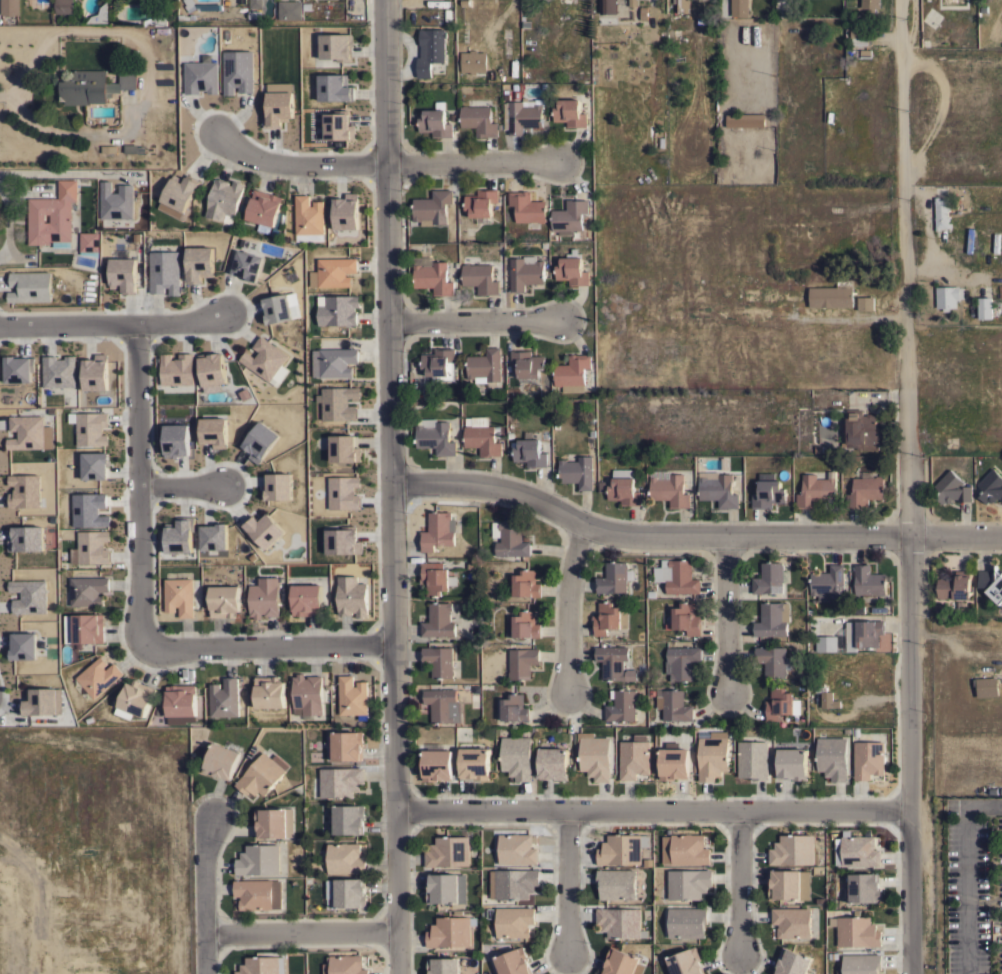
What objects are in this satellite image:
building: (464, 1)
building: (632, 3)
building: (189, 4)
building: (255, 4)
building: (870, 5)
building: (64, 6)
building: (607, 6)
building: (682, 6)
building: (9, 7)
building: (739, 7)
building: (289, 9)
building: (100, 15)
building: (155, 21)
building: (859, 37)
building: (335, 46)
building: (430, 50)
building: (473, 61)
building: (237, 71)
building: (200, 77)
building: (123, 81)
building: (84, 87)
building: (334, 88)
building: (277, 109)
building: (569, 113)
building: (523, 114)
building: (478, 120)
building: (744, 120)
building: (435, 123)
building: (337, 127)
building: (133, 148)
road: (472, 162)
road: (292, 165)
building: (179, 193)
road: (901, 194)
building: (224, 199)
building: (115, 201)
building: (481, 202)
building: (432, 206)
building: (527, 207)
building: (264, 208)
building: (345, 213)
building: (941, 213)
building: (52, 215)
building: (308, 215)
building: (569, 216)
building: (89, 241)
building: (198, 264)
building: (246, 265)
building: (572, 269)
building: (335, 271)
building: (162, 272)
building: (525, 272)
building: (122, 274)
building: (432, 275)
building: (480, 278)
building: (29, 287)
building: (789, 293)
building: (750, 294)
building: (770, 294)
building: (832, 295)
building: (948, 296)
building: (865, 303)
building: (984, 307)
building: (277, 309)
building: (338, 310)
road: (110, 322)
road: (474, 324)
building: (264, 359)
building: (333, 362)
building: (527, 363)
building: (439, 364)
building: (484, 365)
building: (17, 369)
building: (174, 369)
building: (211, 369)
building: (57, 371)
building: (93, 372)
building: (572, 373)
building: (67, 396)
building: (339, 402)
building: (88, 427)
building: (213, 431)
building: (859, 431)
building: (28, 432)
building: (435, 436)
building: (481, 436)
building: (174, 441)
building: (260, 442)
building: (343, 449)
building: (529, 453)
building: (94, 465)
building: (577, 472)
road: (138, 482)
road: (180, 484)
building: (274, 487)
road: (389, 487)
building: (624, 487)
building: (991, 487)
building: (952, 489)
building: (22, 490)
building: (670, 490)
building: (718, 490)
building: (815, 490)
building: (865, 490)
building: (341, 492)
building: (768, 492)
building: (86, 509)
building: (262, 529)
building: (438, 531)
building: (212, 536)
building: (177, 537)
road: (691, 538)
building: (24, 539)
building: (511, 540)
building: (341, 542)
building: (91, 548)
building: (677, 576)
building: (435, 577)
building: (612, 578)
building: (770, 578)
building: (828, 583)
building: (868, 583)
building: (526, 584)
building: (990, 584)
building: (955, 586)
building: (87, 590)
building: (27, 594)
building: (179, 596)
building: (352, 596)
building: (264, 597)
road: (908, 599)
building: (306, 600)
building: (224, 601)
road: (568, 608)
road: (726, 616)
building: (609, 618)
building: (686, 618)
building: (771, 619)
building: (438, 621)
building: (522, 625)
building: (88, 628)
building: (863, 634)
road: (266, 641)
building: (826, 643)
building: (22, 645)
building: (771, 660)
building: (438, 661)
building: (522, 662)
building: (681, 662)
building: (614, 663)
building: (98, 676)
building: (986, 686)
building: (269, 692)
building: (307, 695)
building: (352, 696)
building: (136, 697)
building: (224, 698)
building: (826, 698)
building: (180, 700)
building: (40, 701)
building: (780, 704)
building: (442, 705)
building: (621, 706)
building: (673, 706)
building: (514, 708)
building: (347, 745)
building: (594, 755)
building: (516, 757)
building: (634, 757)
building: (712, 757)
building: (832, 757)
building: (753, 759)
building: (868, 759)
building: (220, 761)
building: (474, 763)
building: (553, 763)
building: (673, 763)
building: (792, 764)
building: (437, 765)
building: (262, 774)
building: (340, 781)
road: (654, 811)
building: (348, 819)
building: (274, 822)
building: (622, 848)
building: (517, 849)
building: (684, 849)
building: (792, 850)
building: (448, 851)
building: (859, 851)
building: (345, 858)
building: (258, 859)
road: (965, 872)
building: (515, 882)
road: (566, 883)
building: (688, 883)
road: (735, 883)
building: (616, 884)
building: (789, 884)
building: (864, 887)
building: (442, 888)
building: (350, 892)
road: (912, 893)
building: (258, 894)
road: (202, 897)
building: (513, 921)
building: (619, 922)
building: (686, 922)
building: (792, 922)
building: (856, 931)
road: (300, 932)
building: (449, 932)
building: (513, 962)
building: (685, 962)
building: (792, 962)
building: (622, 963)
building: (861, 963)
building: (260, 965)
building: (345, 965)
building: (443, 965)

